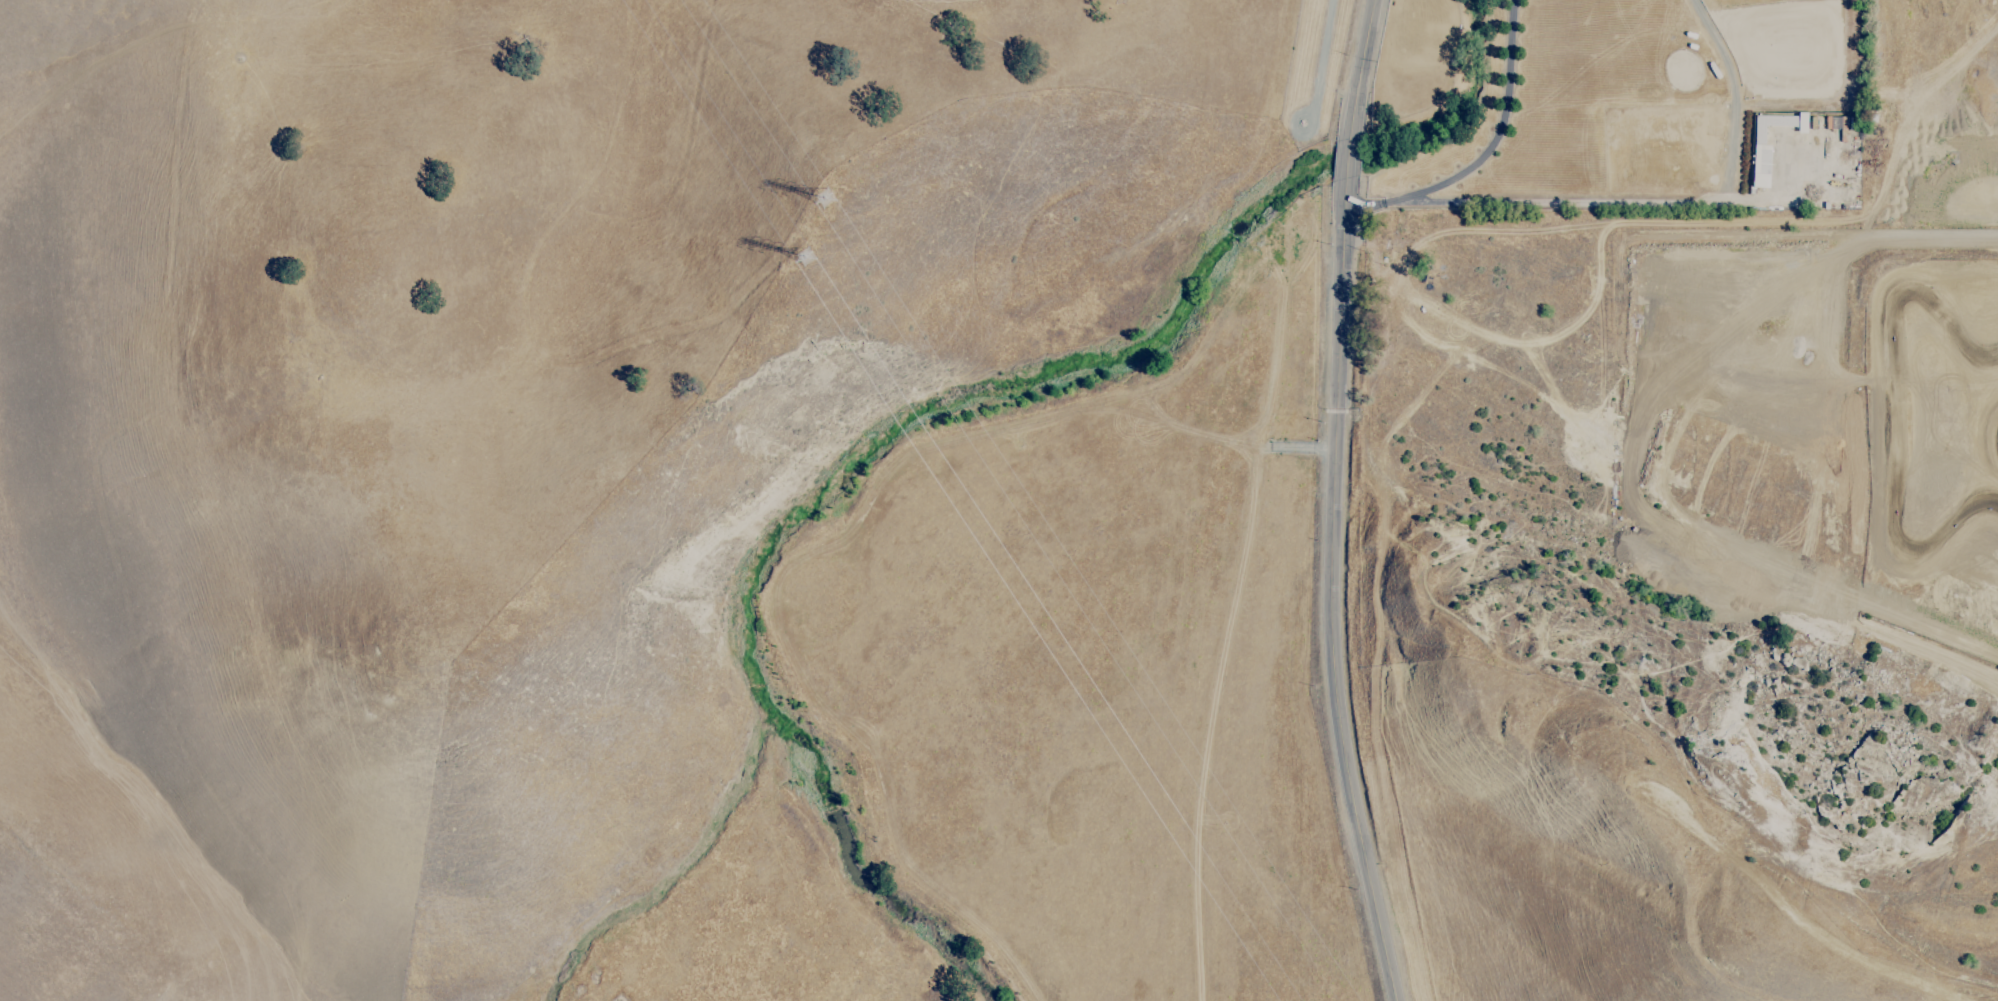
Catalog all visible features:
road: (1320, 61)
road: (1498, 121)
building: (1805, 123)
building: (1764, 147)
power tower: (821, 194)
road: (1376, 201)
road: (1669, 202)
power tower: (801, 260)
quarry: (1811, 411)
road: (1296, 446)
road: (1333, 502)
road: (1206, 721)

